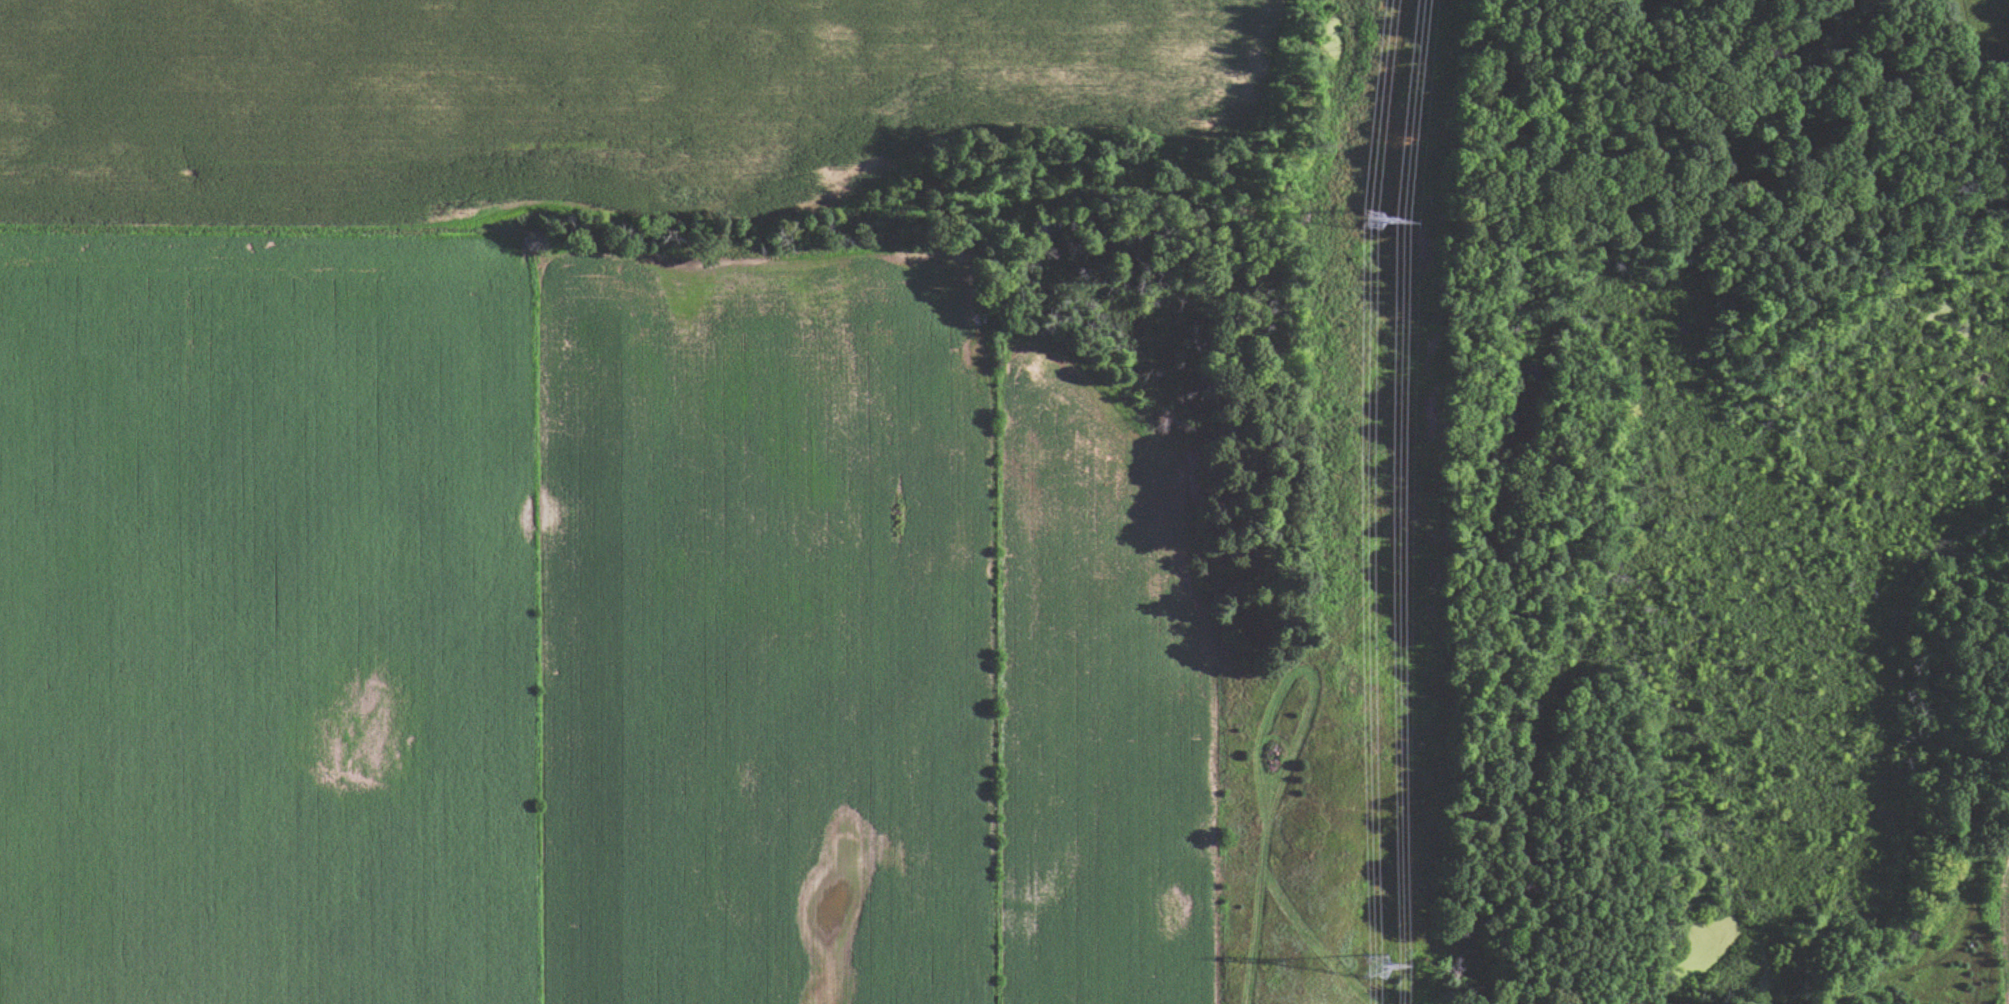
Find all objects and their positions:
power tower: (1367, 224)
power tower: (1371, 970)

